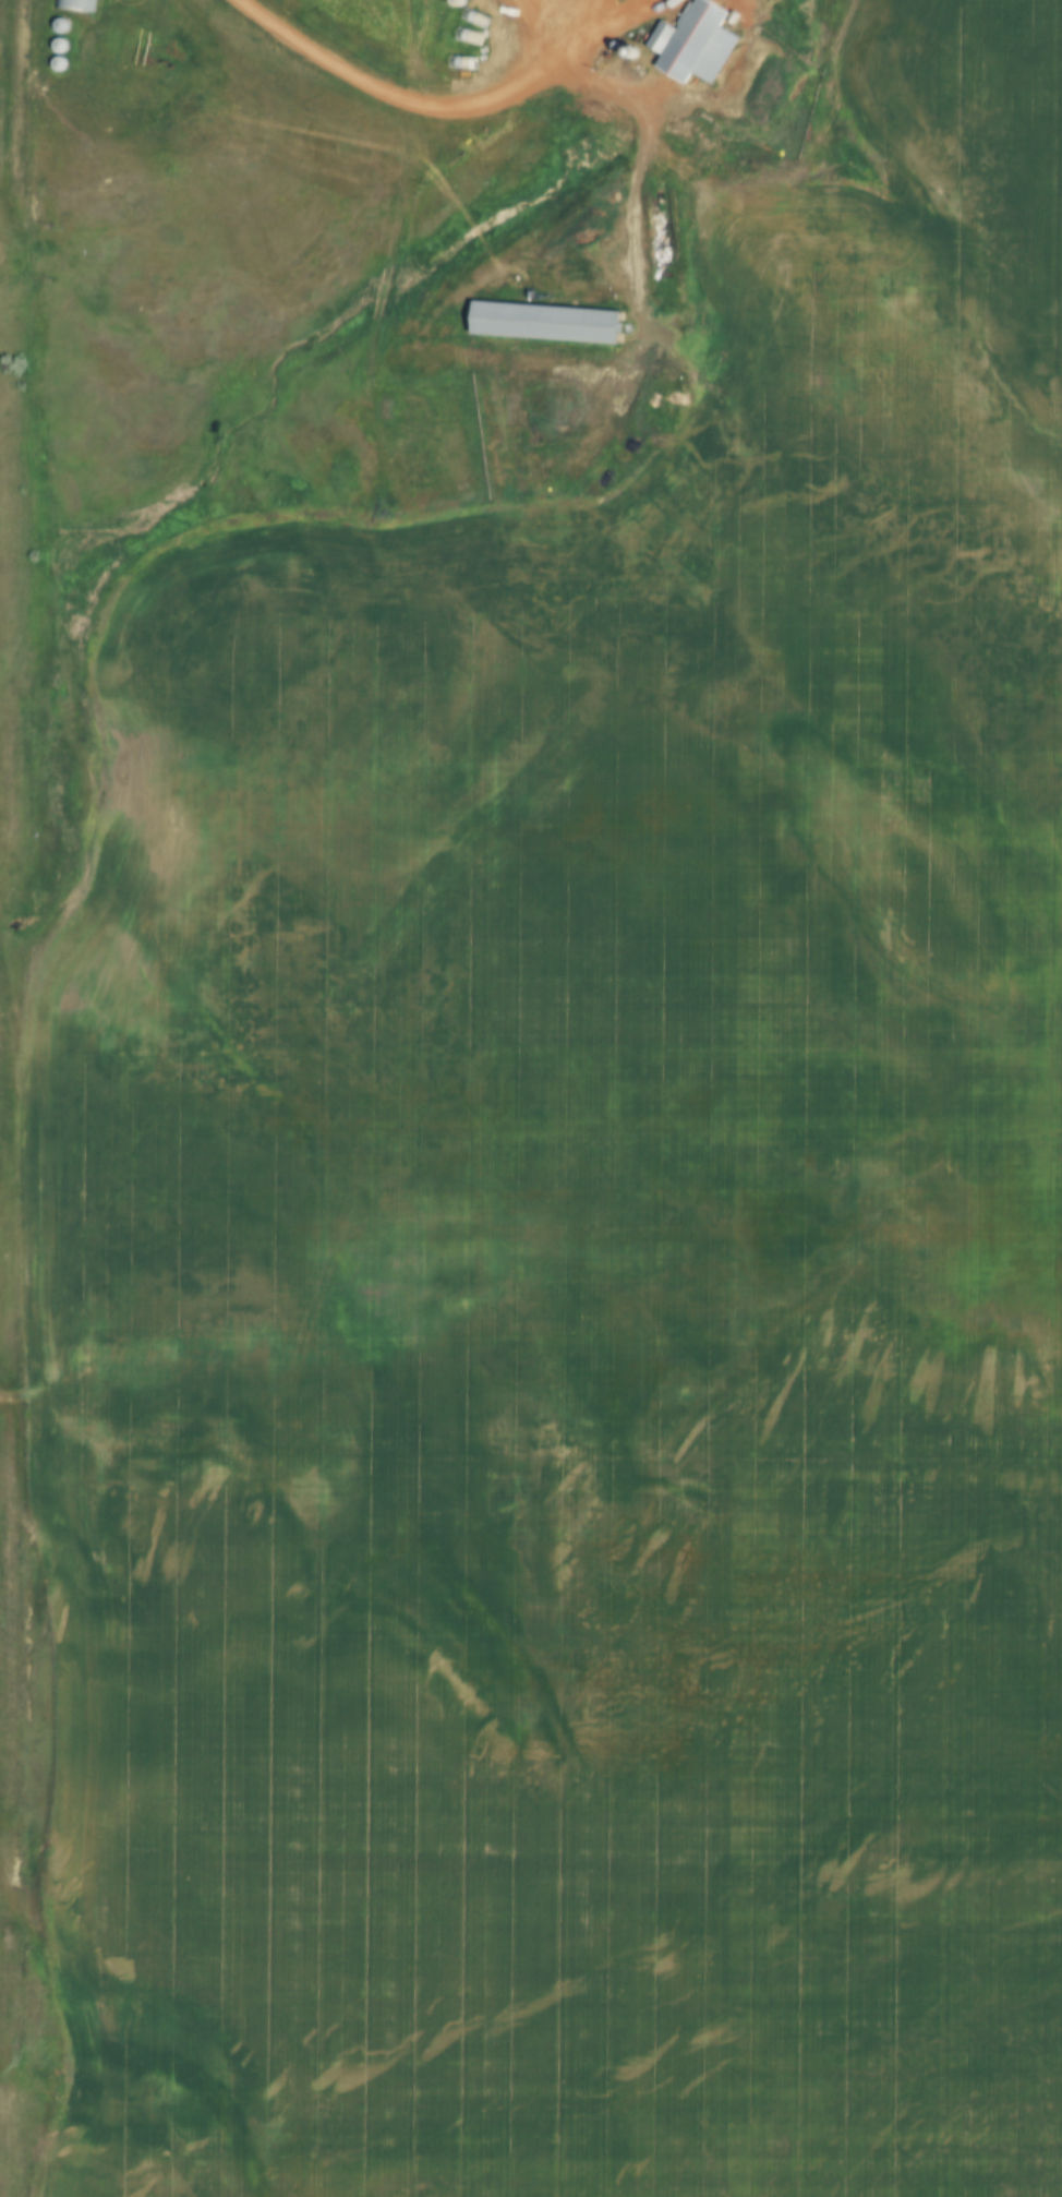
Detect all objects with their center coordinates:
building: (77, 4)
building: (692, 43)
building: (462, 55)
road: (397, 96)
building: (542, 322)

